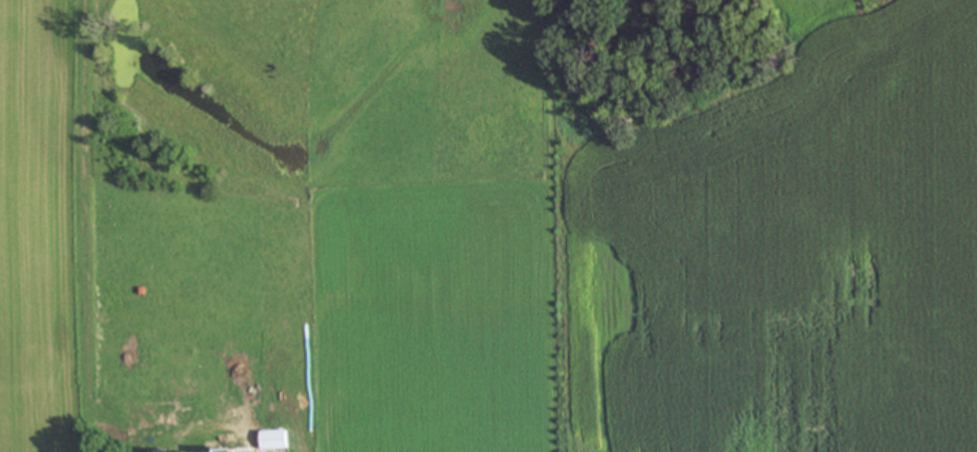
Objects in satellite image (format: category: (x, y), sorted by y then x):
building: (280, 442)

